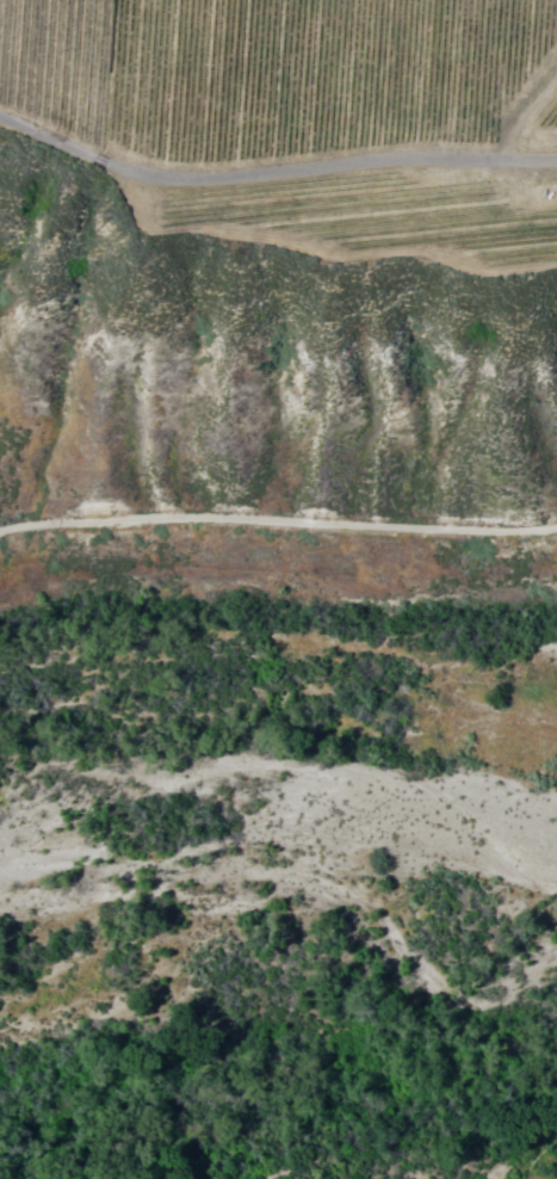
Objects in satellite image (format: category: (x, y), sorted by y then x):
crop: (314, 113)

